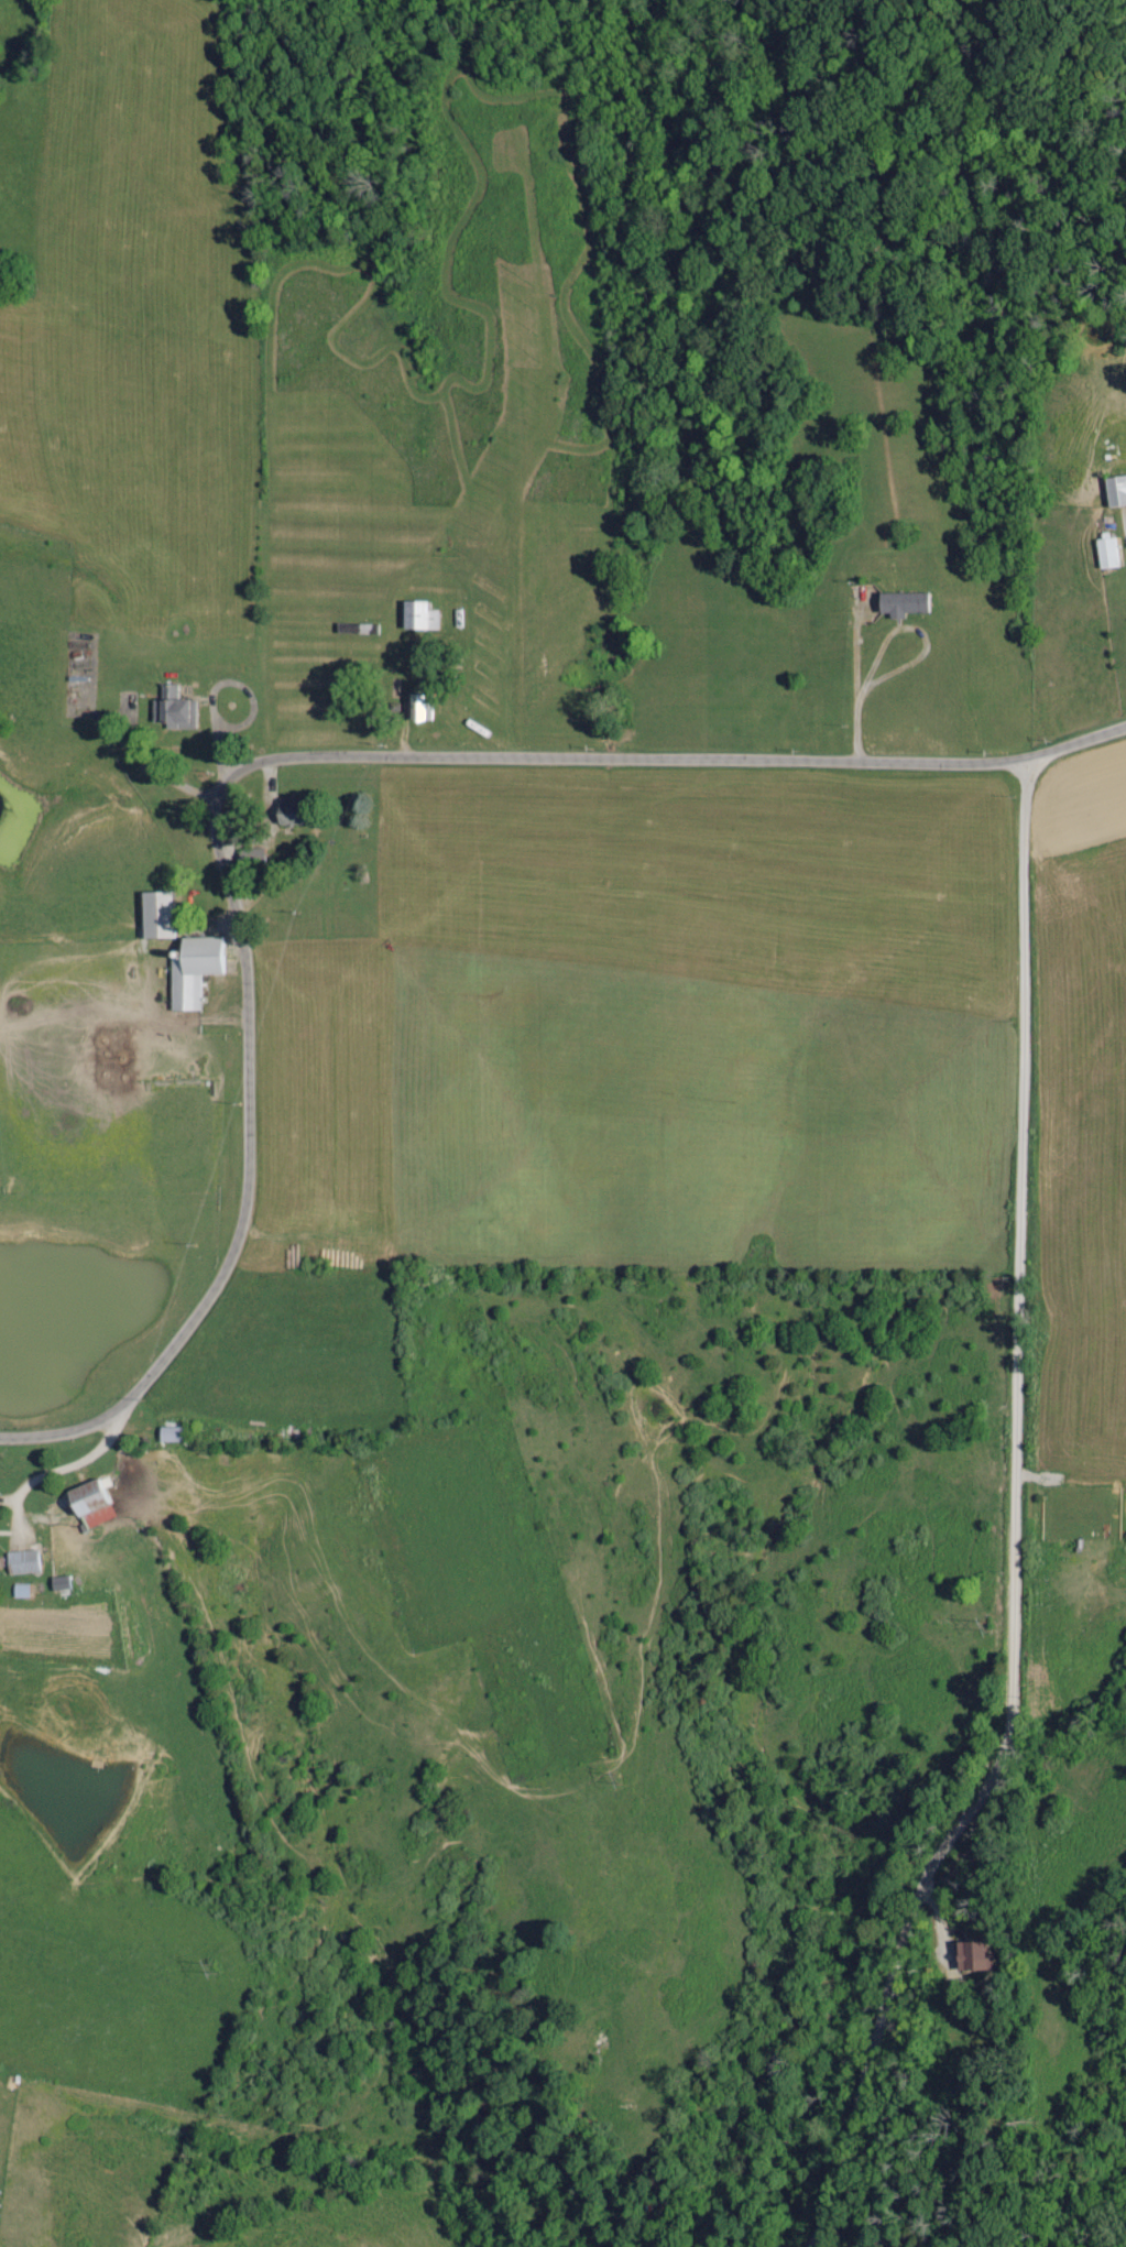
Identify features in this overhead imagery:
building: (1118, 493)
building: (1109, 555)
building: (905, 606)
building: (425, 618)
road: (853, 676)
building: (176, 711)
road: (481, 715)
road: (273, 753)
building: (252, 859)
building: (162, 917)
building: (198, 971)
building: (175, 1436)
road: (58, 1473)
building: (98, 1504)
road: (1014, 1519)
building: (25, 1563)
building: (64, 1584)
building: (23, 1592)
power tower: (992, 1624)
power tower: (625, 1779)
building: (979, 1957)
power tower: (221, 1968)

